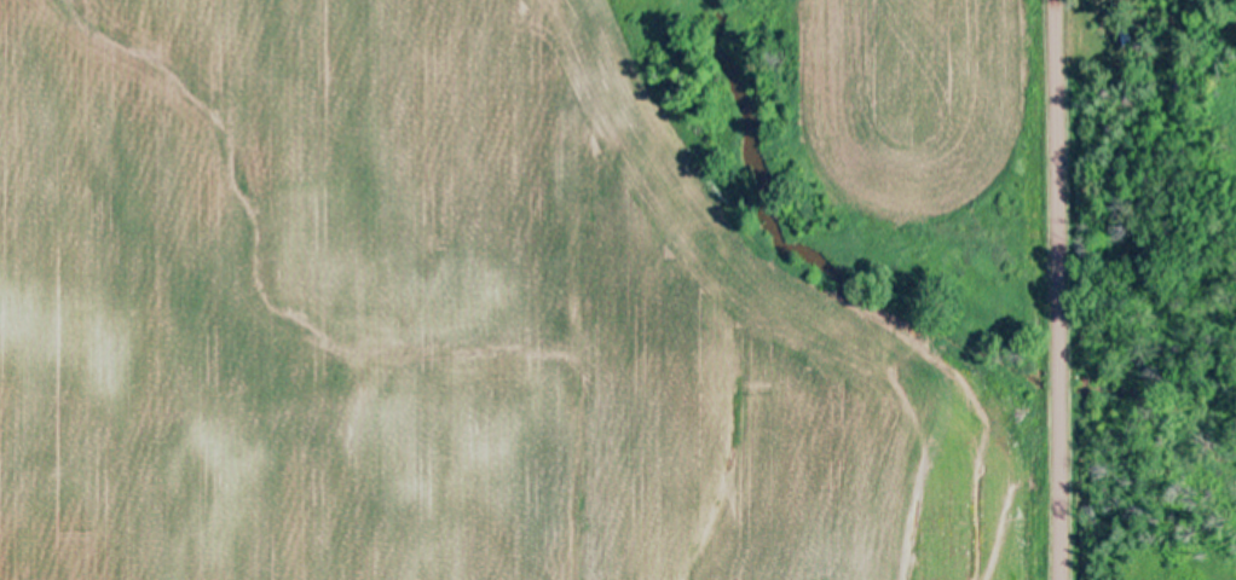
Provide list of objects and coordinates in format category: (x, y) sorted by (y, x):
road: (1052, 289)

